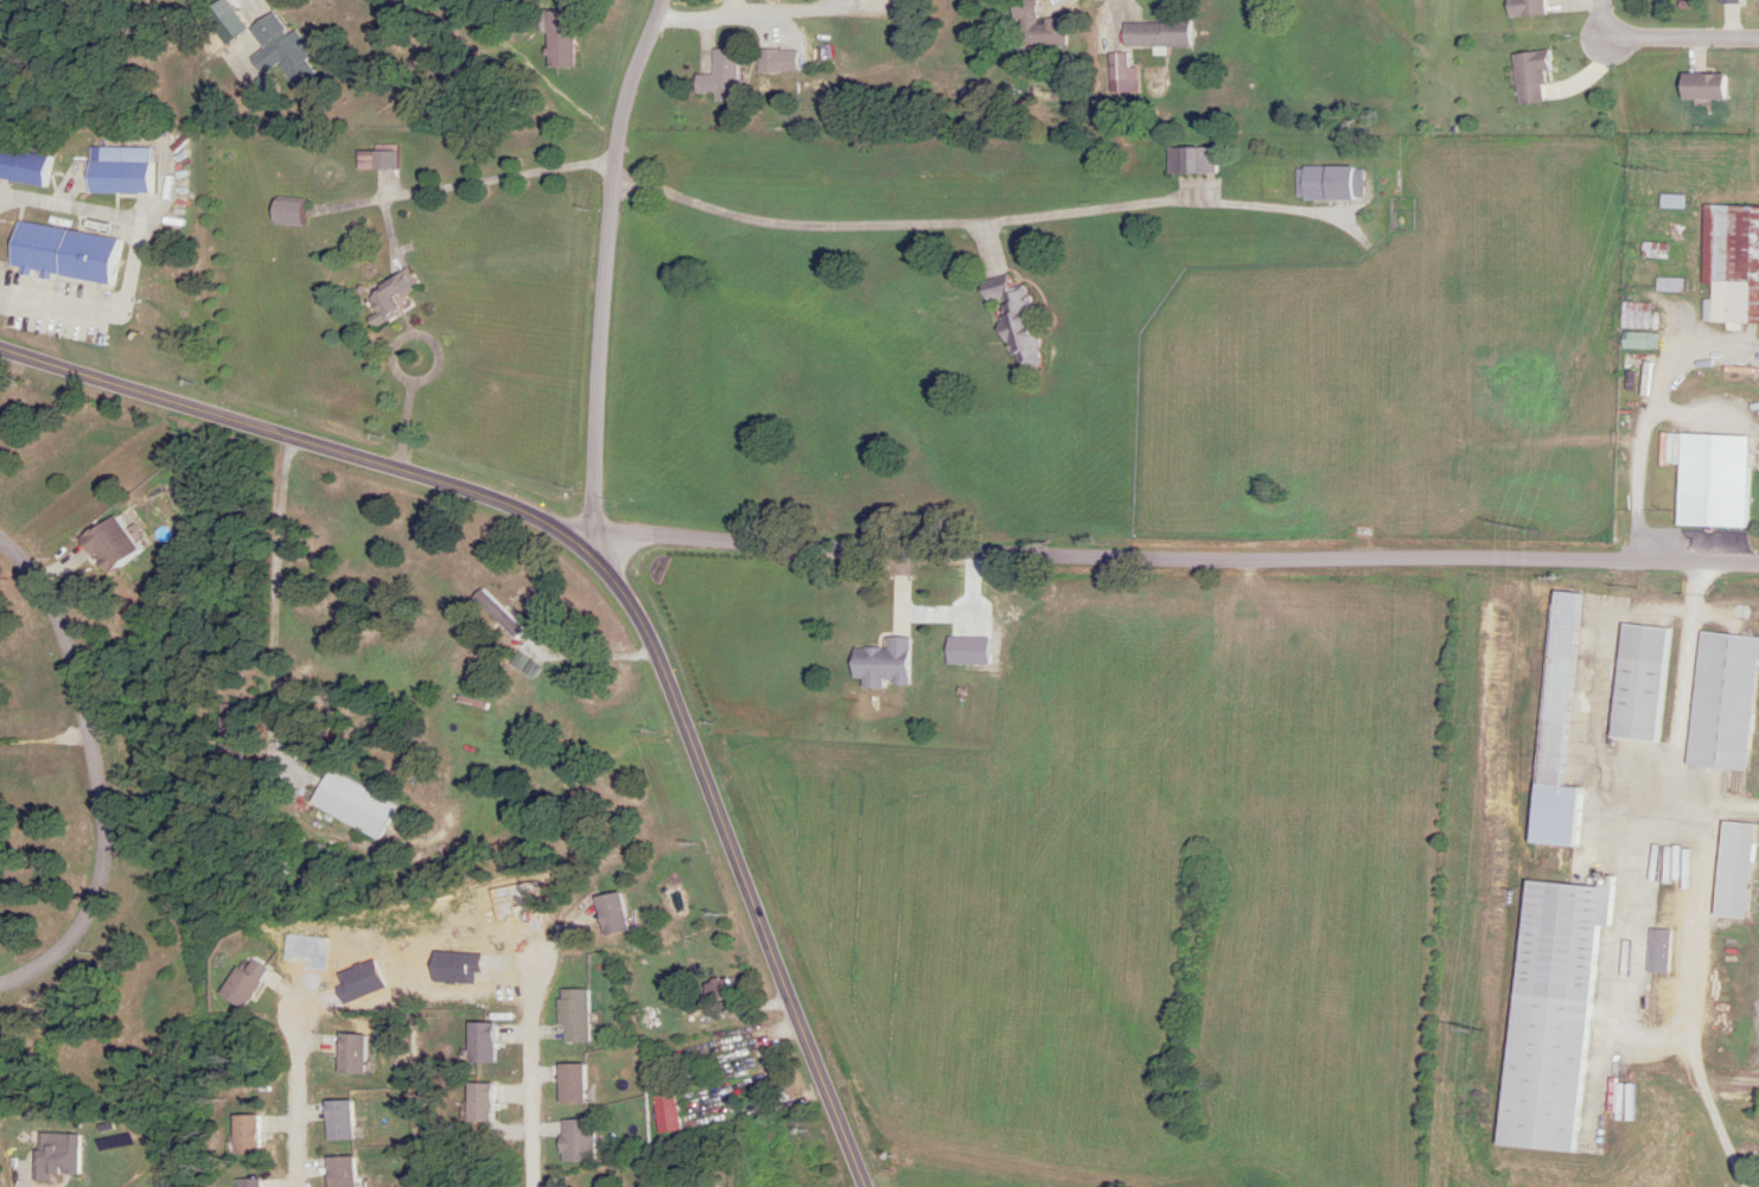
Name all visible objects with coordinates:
building: (1523, 7)
road: (750, 18)
building: (1034, 27)
building: (1153, 34)
road: (1661, 36)
building: (565, 39)
building: (288, 51)
building: (765, 62)
building: (1116, 65)
building: (719, 76)
building: (1528, 76)
building: (1699, 85)
building: (384, 161)
building: (1188, 161)
building: (27, 166)
building: (127, 171)
road: (501, 179)
building: (1326, 185)
building: (299, 213)
road: (989, 224)
building: (75, 254)
building: (1729, 261)
road: (604, 270)
building: (1659, 283)
building: (399, 299)
building: (1018, 321)
road: (404, 343)
road: (407, 427)
road: (1643, 452)
building: (1708, 480)
building: (119, 543)
road: (1175, 556)
road: (614, 574)
building: (499, 614)
building: (893, 663)
building: (1636, 682)
building: (1719, 701)
building: (1553, 726)
road: (93, 773)
building: (359, 804)
building: (1728, 869)
road: (1702, 878)
building: (623, 914)
building: (1655, 951)
building: (728, 991)
building: (1547, 1013)
building: (585, 1015)
building: (495, 1042)
building: (363, 1053)
road: (535, 1076)
building: (586, 1084)
building: (680, 1106)
road: (298, 1108)
building: (346, 1121)
building: (589, 1141)
building: (63, 1155)
road: (986, 1161)
building: (350, 1172)

